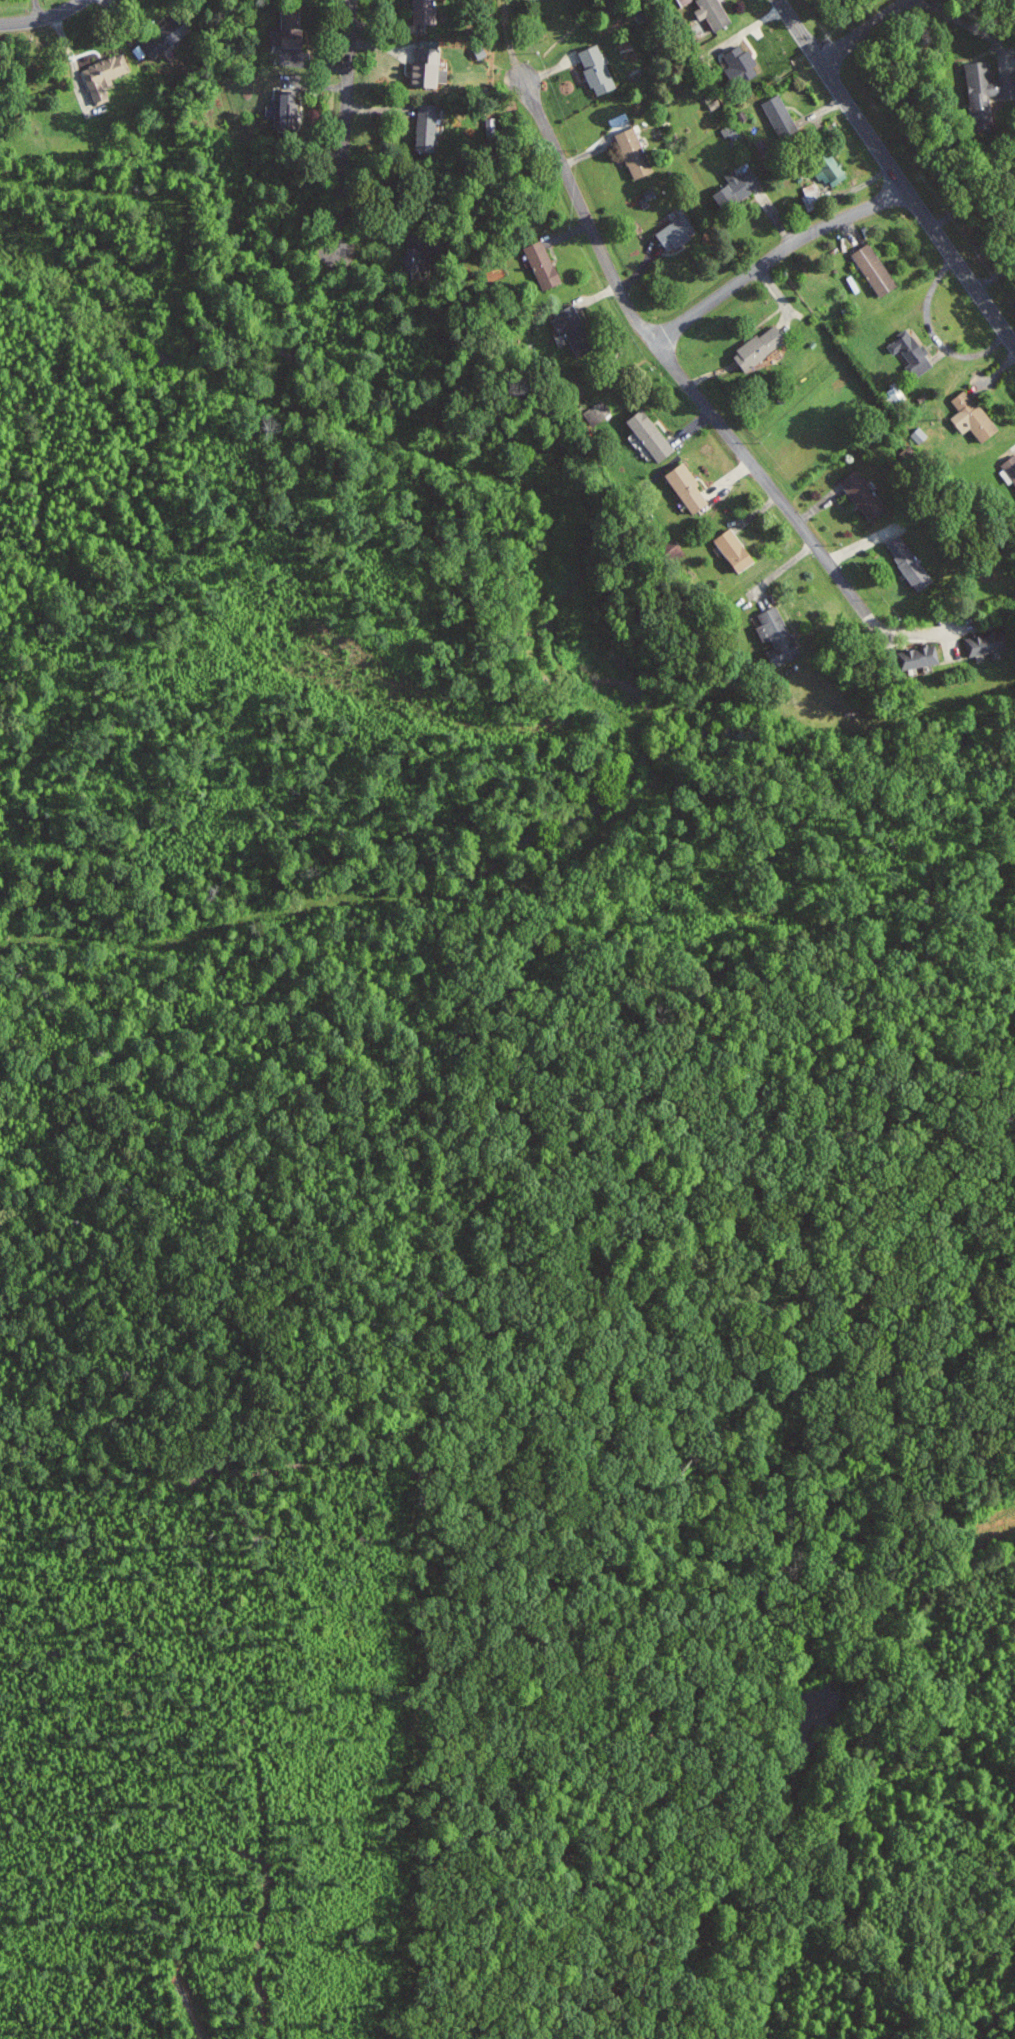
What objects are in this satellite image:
building: (685, 1)
building: (427, 11)
building: (714, 13)
road: (42, 17)
road: (970, 26)
building: (294, 29)
road: (801, 31)
road: (866, 31)
building: (166, 37)
road: (508, 40)
building: (484, 49)
road: (72, 58)
building: (742, 64)
building: (428, 68)
building: (598, 69)
building: (106, 75)
building: (987, 86)
building: (289, 109)
building: (781, 116)
building: (428, 127)
road: (344, 133)
building: (635, 153)
building: (834, 172)
building: (737, 187)
road: (917, 207)
building: (679, 232)
road: (776, 255)
building: (418, 256)
building: (545, 265)
building: (876, 270)
road: (994, 276)
building: (577, 331)
road: (933, 334)
building: (761, 348)
building: (912, 353)
road: (671, 358)
building: (973, 417)
building: (652, 435)
building: (921, 435)
building: (1009, 469)
building: (688, 488)
building: (865, 496)
building: (736, 550)
building: (911, 564)
road: (904, 630)
building: (779, 637)
building: (985, 643)
building: (923, 657)

